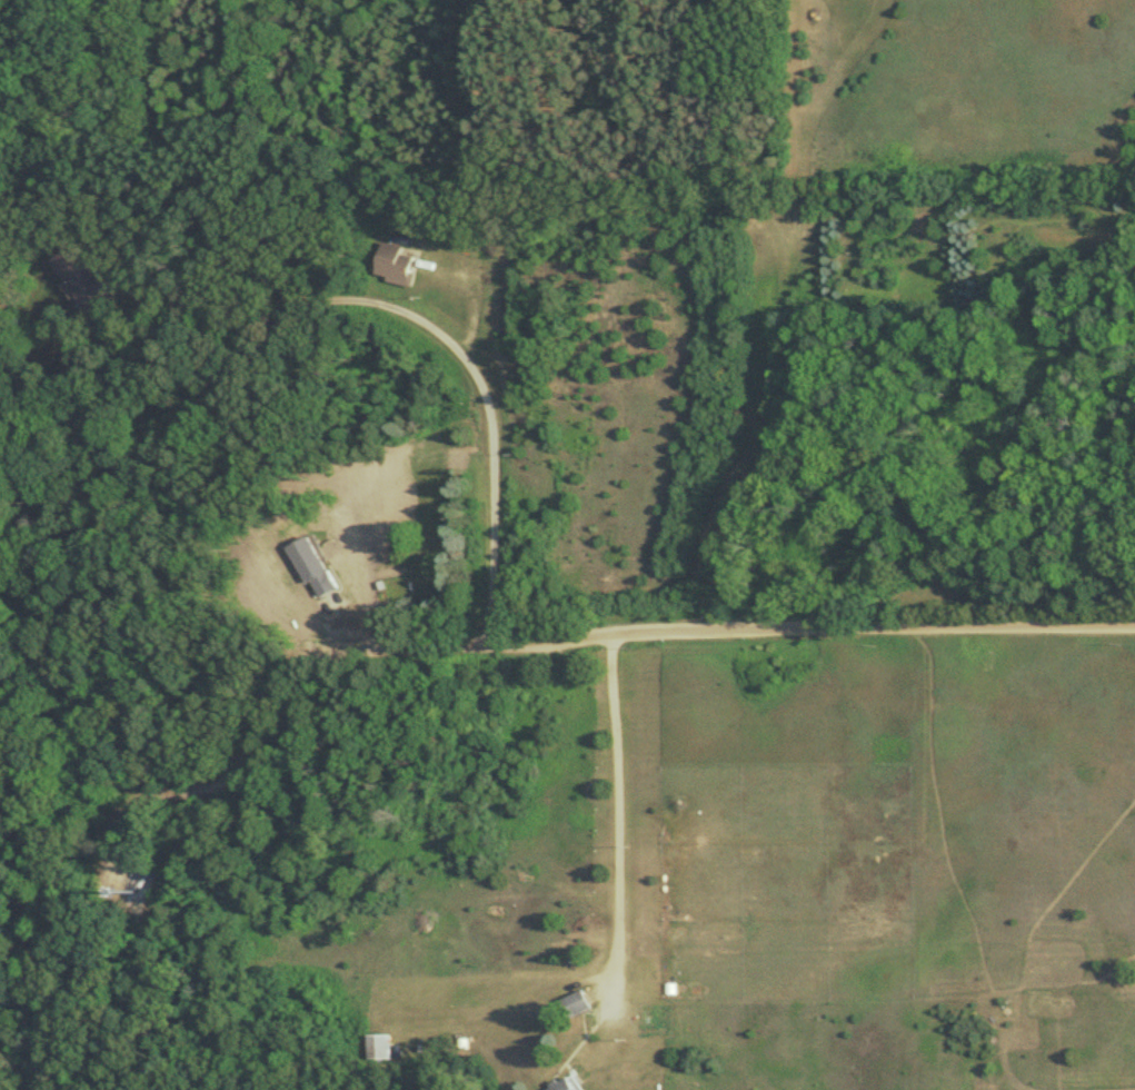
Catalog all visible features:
building: (392, 265)
building: (77, 279)
road: (227, 294)
road: (488, 413)
building: (312, 568)
road: (777, 626)
road: (614, 831)
building: (577, 1004)
building: (378, 1047)
building: (564, 1086)

